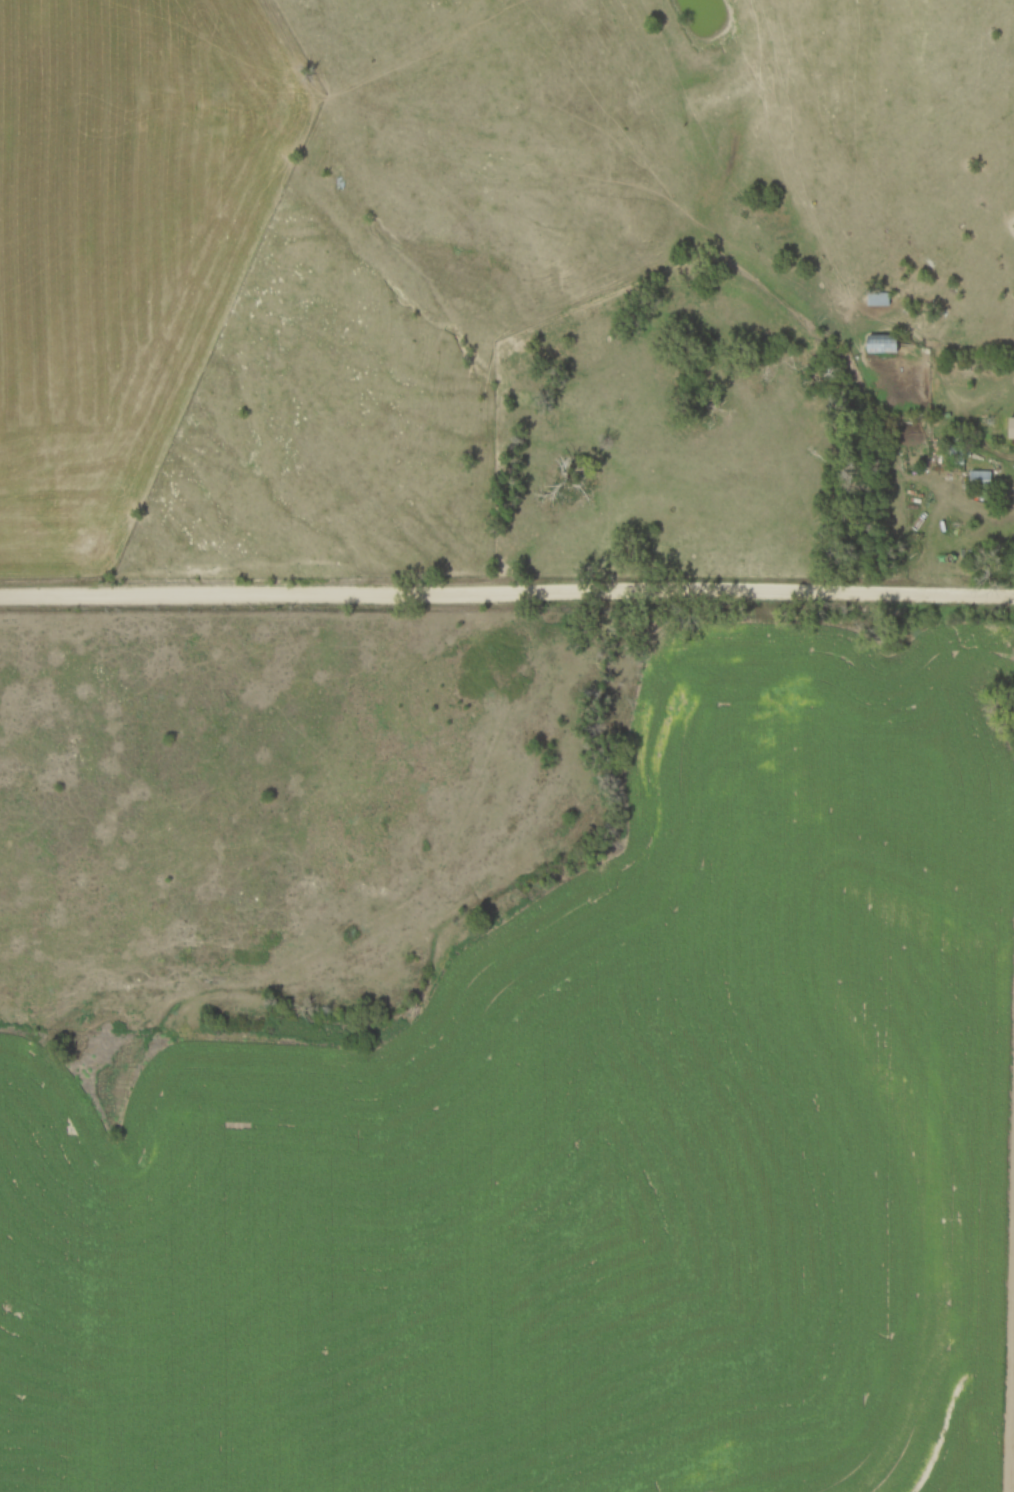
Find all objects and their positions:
building: (878, 297)
building: (881, 343)
building: (1010, 425)
road: (995, 458)
building: (980, 476)
road: (507, 594)

